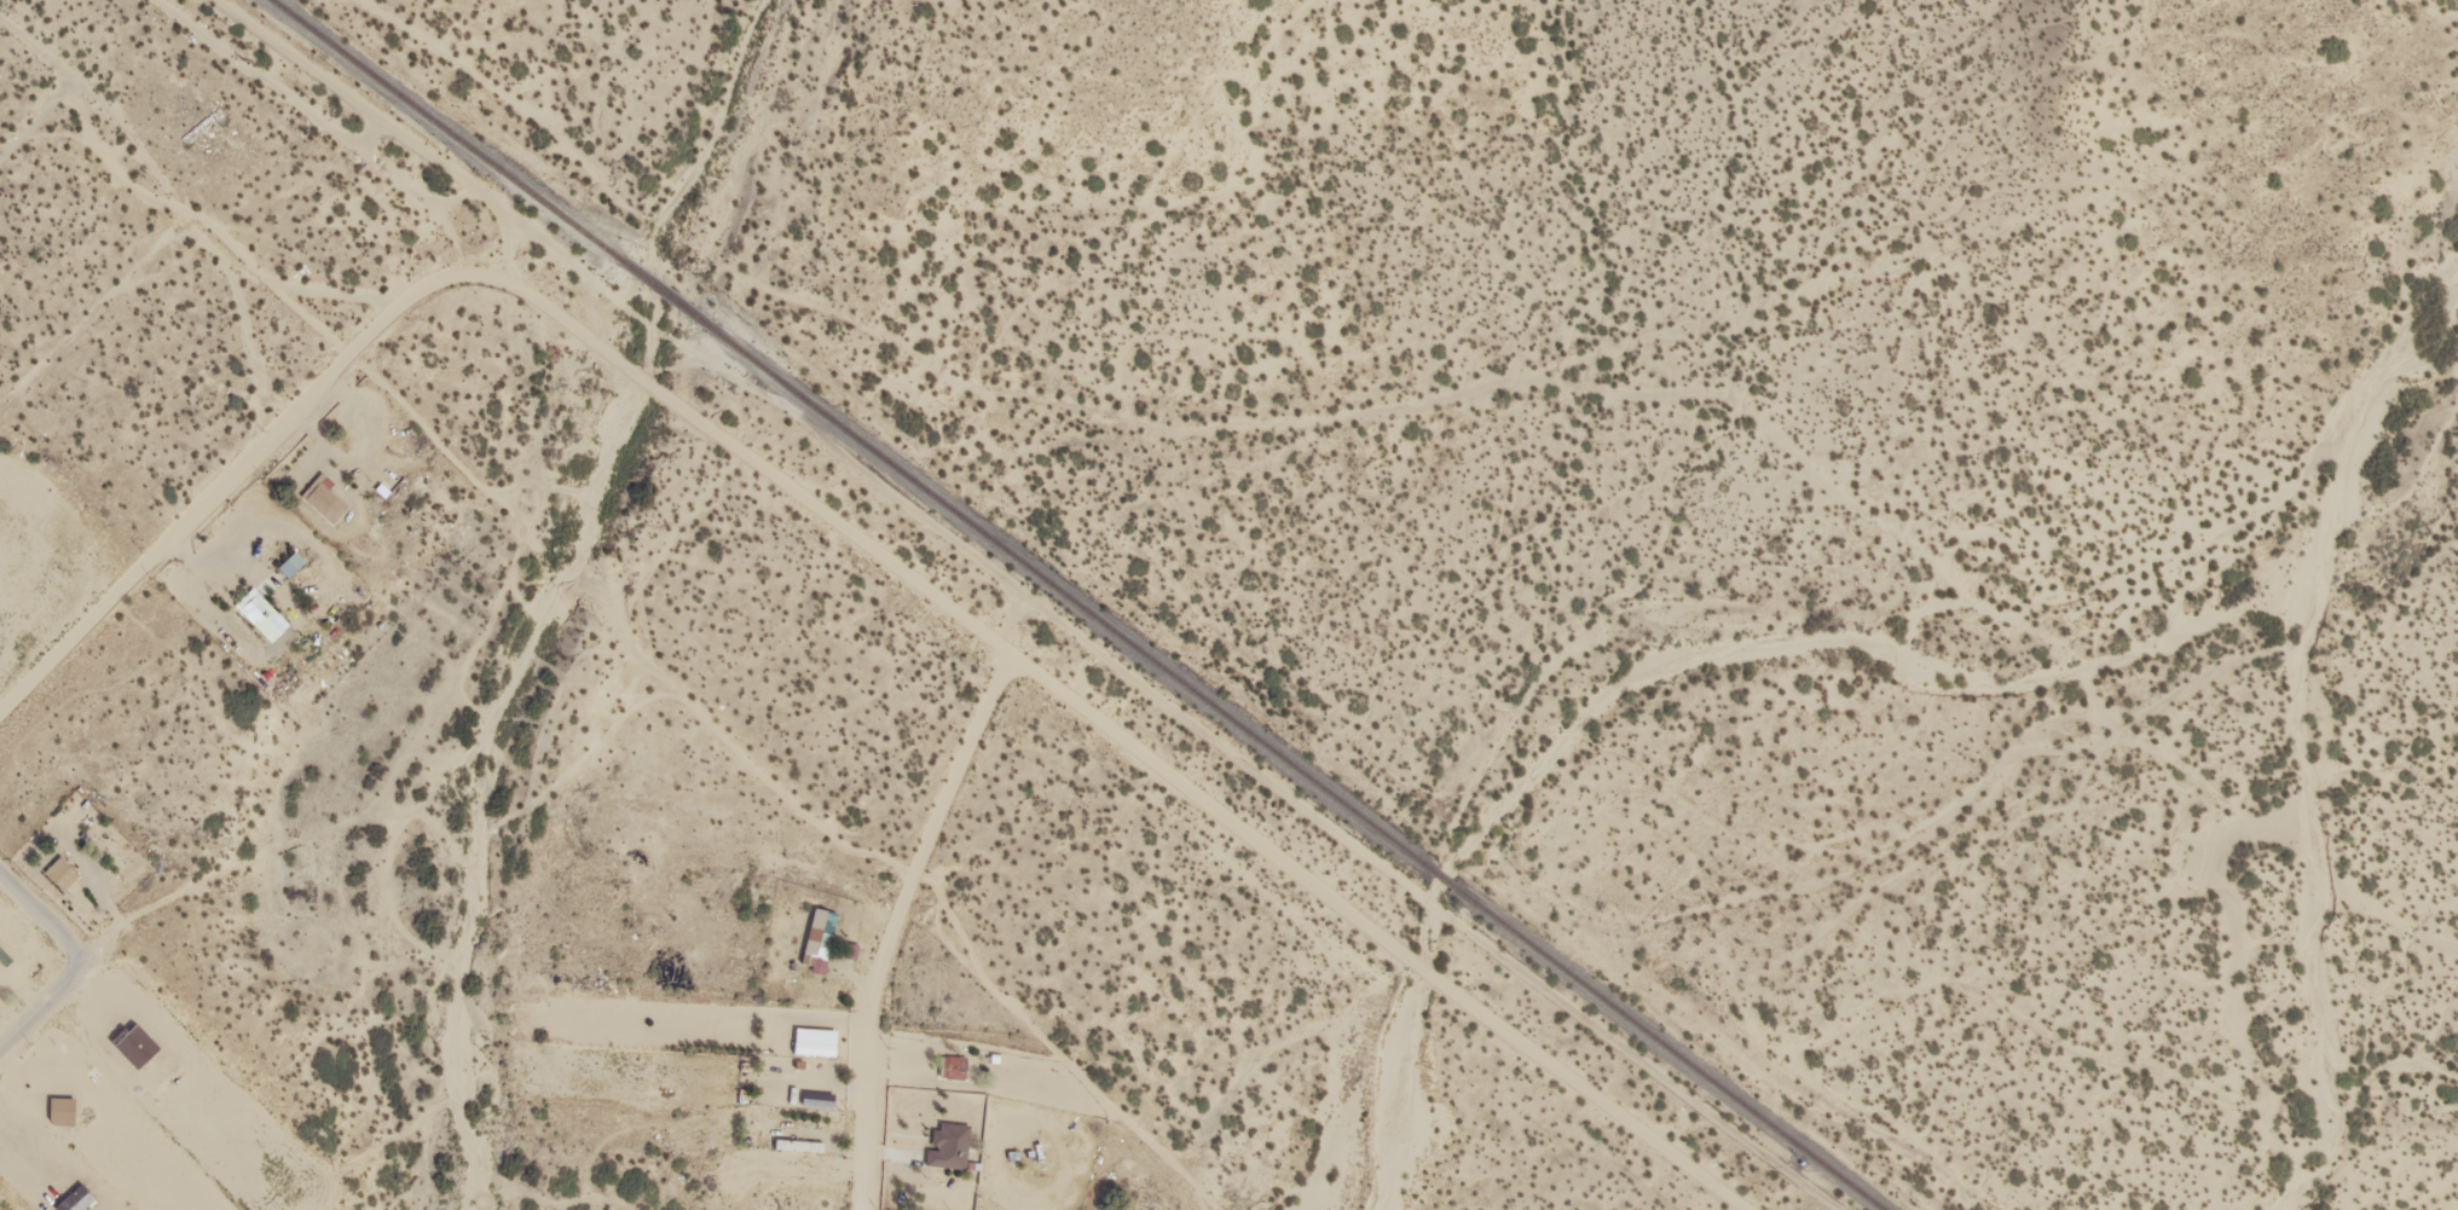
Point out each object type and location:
road: (36, 115)
railway: (440, 131)
railway: (663, 297)
road: (225, 491)
building: (326, 492)
building: (294, 555)
building: (261, 600)
railway: (891, 604)
road: (1092, 739)
railway: (1297, 770)
building: (63, 867)
road: (885, 928)
building: (820, 937)
road: (83, 963)
building: (812, 1047)
building: (953, 1063)
building: (62, 1111)
building: (948, 1142)
building: (76, 1195)

